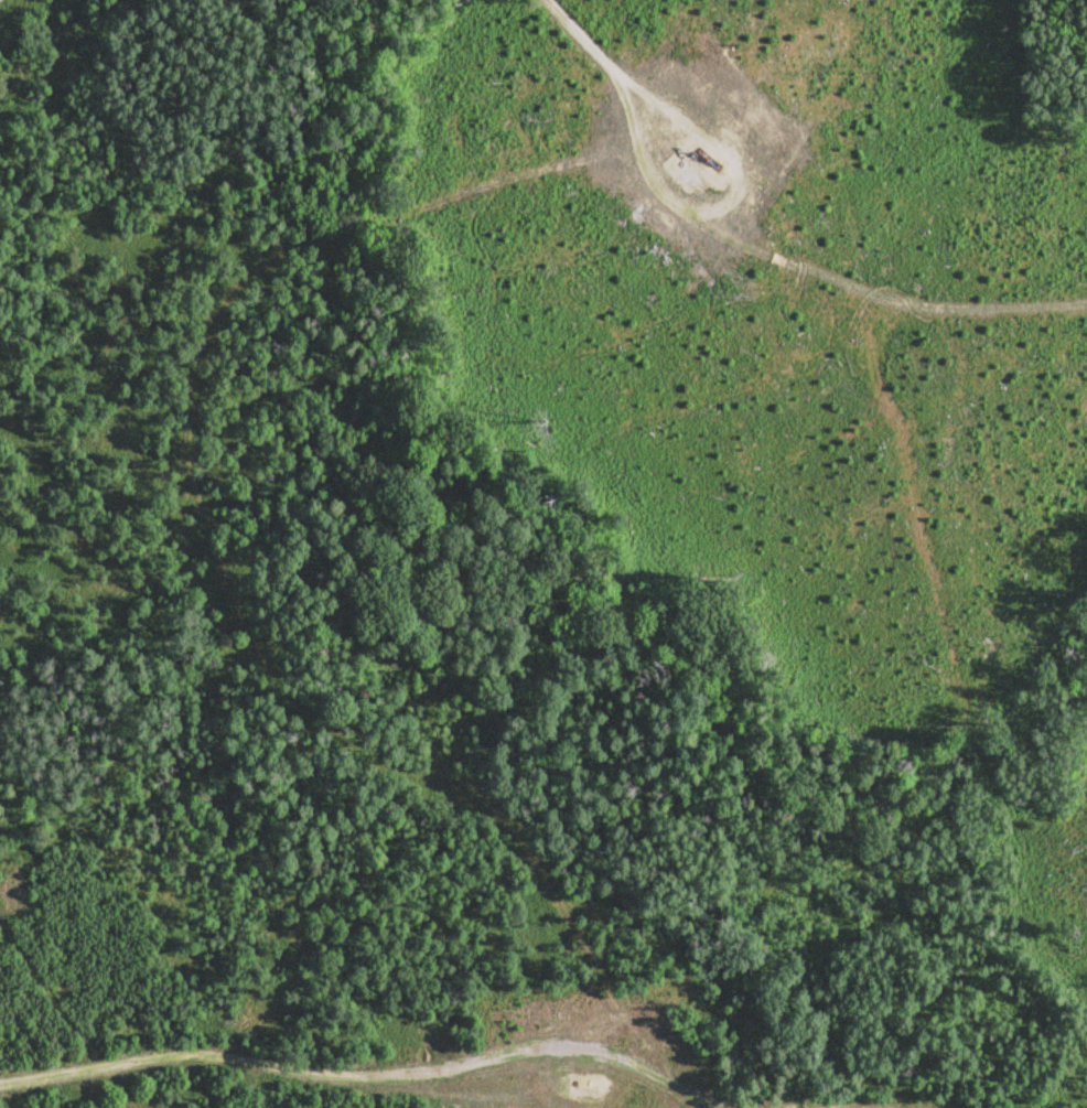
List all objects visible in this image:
road: (606, 66)
petroleum well: (704, 157)
road: (266, 1066)
petroleum well: (580, 1079)

